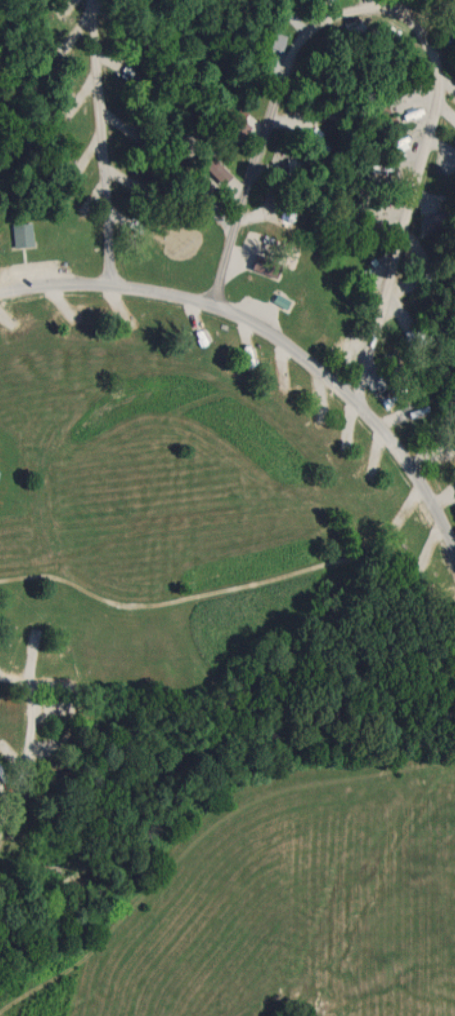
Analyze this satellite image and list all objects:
road: (398, 9)
road: (404, 23)
road: (105, 141)
building: (286, 212)
building: (21, 235)
building: (280, 301)
road: (272, 332)
park: (227, 508)
road: (29, 750)

